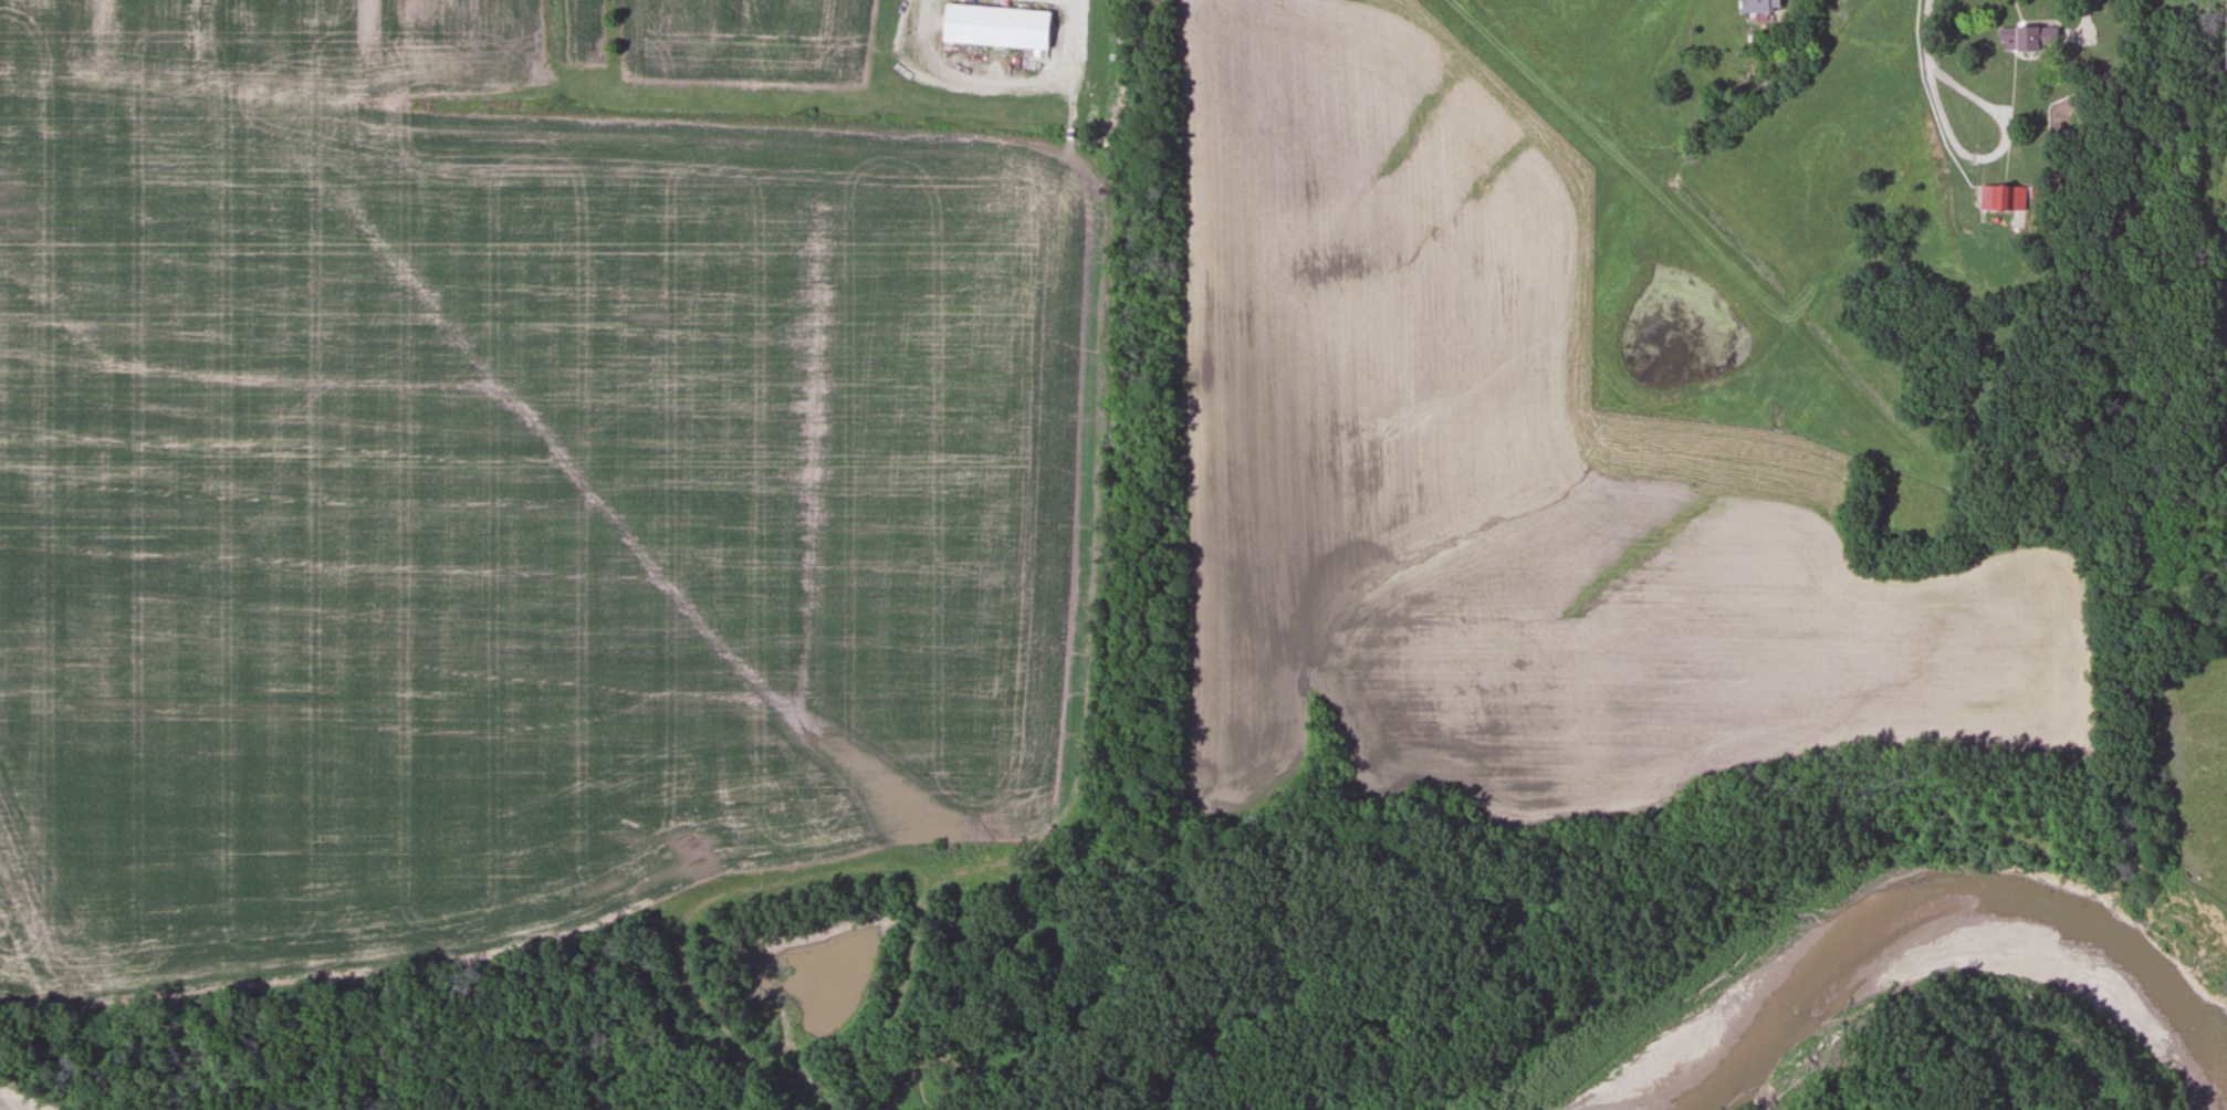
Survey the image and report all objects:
building: (1758, 6)
building: (2225, 20)
building: (993, 25)
building: (2025, 39)
building: (2000, 197)
crop: (508, 473)
crop: (1503, 482)
river: (1893, 897)

